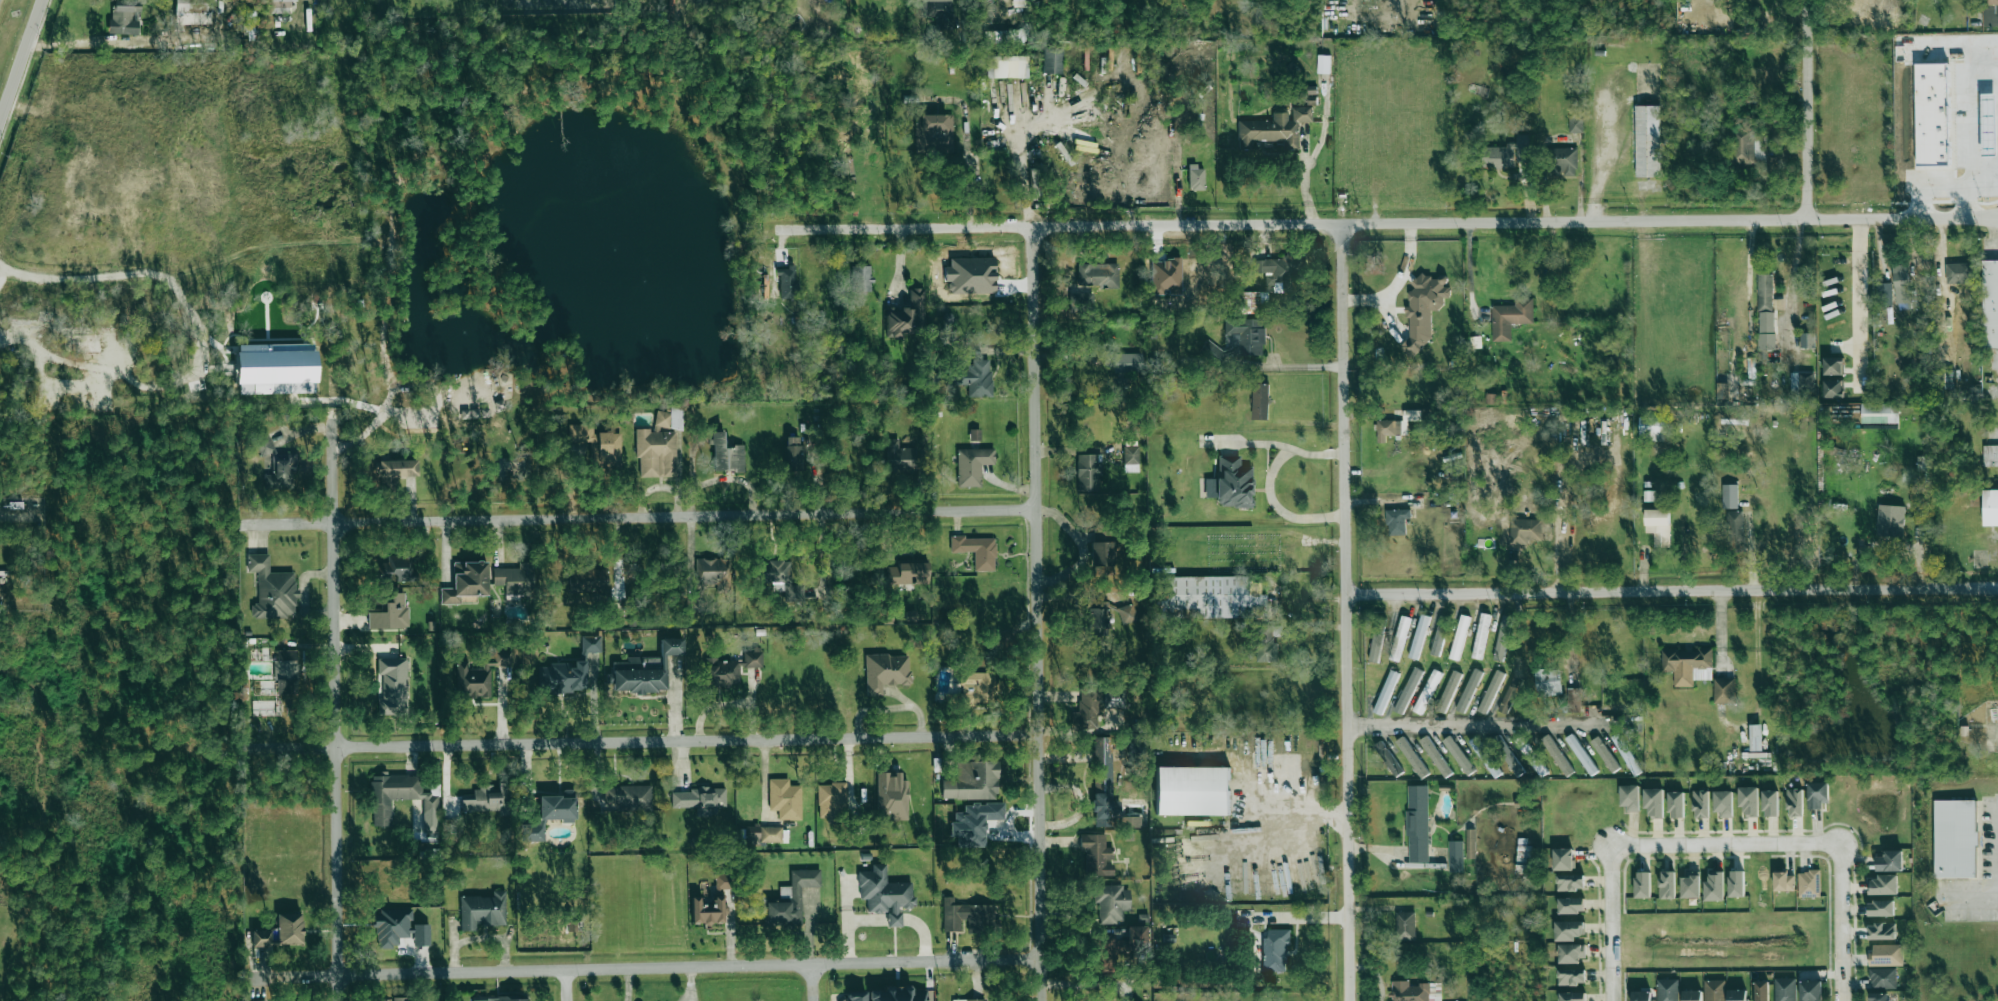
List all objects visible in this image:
building: (1990, 2)
building: (278, 6)
road: (304, 6)
building: (933, 10)
building: (192, 11)
building: (249, 15)
building: (123, 17)
building: (1002, 36)
road: (101, 42)
road: (20, 57)
building: (1051, 60)
building: (1323, 64)
building: (1005, 66)
road: (1808, 109)
building: (1575, 122)
building: (1273, 128)
building: (1646, 140)
building: (1742, 145)
building: (1508, 153)
building: (1562, 160)
road: (1023, 161)
building: (1196, 177)
road: (1375, 222)
road: (1993, 234)
building: (1271, 268)
building: (1958, 272)
building: (1097, 273)
building: (970, 275)
building: (861, 278)
building: (787, 282)
building: (1901, 286)
road: (1788, 287)
building: (1883, 293)
road: (1864, 299)
building: (1250, 301)
building: (1081, 302)
building: (1989, 304)
building: (1423, 309)
building: (1765, 311)
building: (906, 314)
building: (1510, 317)
building: (1245, 335)
building: (1807, 340)
road: (199, 341)
building: (1212, 352)
building: (1127, 361)
building: (1833, 365)
building: (276, 368)
building: (973, 378)
building: (1802, 381)
building: (1833, 388)
building: (1260, 401)
building: (1879, 413)
building: (1395, 425)
building: (1651, 429)
building: (974, 434)
building: (583, 435)
building: (264, 444)
building: (659, 444)
building: (609, 447)
building: (793, 452)
building: (725, 453)
building: (1990, 455)
building: (900, 456)
building: (1130, 458)
building: (971, 464)
building: (397, 467)
building: (1087, 472)
building: (281, 473)
building: (1233, 482)
road: (1268, 483)
building: (1652, 495)
building: (1729, 496)
building: (1990, 509)
road: (674, 517)
building: (1890, 520)
building: (1396, 521)
building: (1658, 526)
building: (1735, 529)
building: (1525, 530)
building: (976, 550)
building: (1100, 554)
building: (393, 568)
building: (907, 573)
building: (710, 574)
building: (778, 577)
building: (515, 578)
building: (587, 580)
building: (465, 581)
building: (272, 589)
road: (1672, 592)
building: (1208, 597)
building: (695, 604)
building: (1126, 612)
road: (1346, 612)
building: (390, 613)
road: (1039, 613)
building: (1098, 619)
building: (1439, 635)
building: (1480, 635)
building: (1418, 636)
building: (1459, 637)
building: (1399, 638)
building: (1502, 638)
building: (1267, 642)
building: (591, 643)
building: (1375, 647)
building: (285, 664)
building: (1687, 665)
building: (729, 668)
building: (644, 669)
building: (885, 671)
building: (477, 676)
building: (561, 677)
building: (1548, 681)
building: (391, 686)
building: (969, 688)
building: (1407, 690)
building: (1723, 690)
building: (1385, 691)
building: (1427, 691)
building: (1448, 691)
building: (1469, 691)
building: (1490, 691)
building: (1509, 695)
building: (1114, 697)
building: (1573, 700)
road: (337, 706)
building: (1086, 709)
road: (1477, 727)
building: (1755, 737)
road: (651, 752)
building: (1581, 754)
building: (1604, 754)
building: (1626, 754)
building: (1458, 755)
building: (1557, 755)
building: (1411, 757)
building: (1388, 758)
building: (972, 780)
building: (1102, 781)
building: (1192, 789)
building: (1817, 795)
building: (627, 796)
building: (891, 796)
building: (698, 797)
building: (401, 798)
building: (784, 798)
building: (1629, 798)
building: (486, 799)
building: (1749, 800)
building: (830, 801)
building: (1654, 801)
building: (1770, 802)
building: (1794, 802)
building: (1723, 803)
building: (1700, 804)
building: (1676, 805)
road: (1302, 810)
building: (549, 814)
building: (1131, 821)
building: (974, 822)
building: (1417, 823)
building: (763, 834)
building: (1955, 840)
building: (1471, 843)
road: (1724, 847)
building: (1095, 854)
building: (1455, 856)
building: (1562, 859)
building: (1889, 860)
building: (722, 881)
building: (1783, 881)
building: (1570, 882)
building: (1808, 883)
building: (1642, 884)
building: (1666, 884)
building: (1736, 884)
building: (1882, 884)
building: (1690, 885)
building: (1714, 886)
building: (884, 893)
road: (1973, 896)
building: (791, 897)
building: (1111, 902)
building: (1570, 905)
building: (1880, 907)
building: (482, 910)
building: (708, 910)
building: (969, 916)
road: (1300, 918)
road: (1611, 923)
road: (1838, 924)
building: (1405, 925)
building: (398, 928)
building: (1568, 929)
building: (280, 931)
building: (1880, 931)
building: (1116, 947)
building: (1275, 951)
building: (1571, 952)
building: (1885, 954)
road: (679, 971)
building: (1571, 976)
building: (1882, 977)
road: (814, 985)
road: (567, 987)
road: (627, 987)
building: (1784, 989)
building: (1667, 990)
building: (1714, 990)
building: (1810, 990)
building: (1414, 991)
building: (1761, 991)
building: (888, 994)
building: (1691, 995)
building: (1737, 995)
building: (1572, 996)
building: (1641, 996)
building: (1878, 996)
building: (400, 999)
building: (512, 999)
building: (968, 999)

